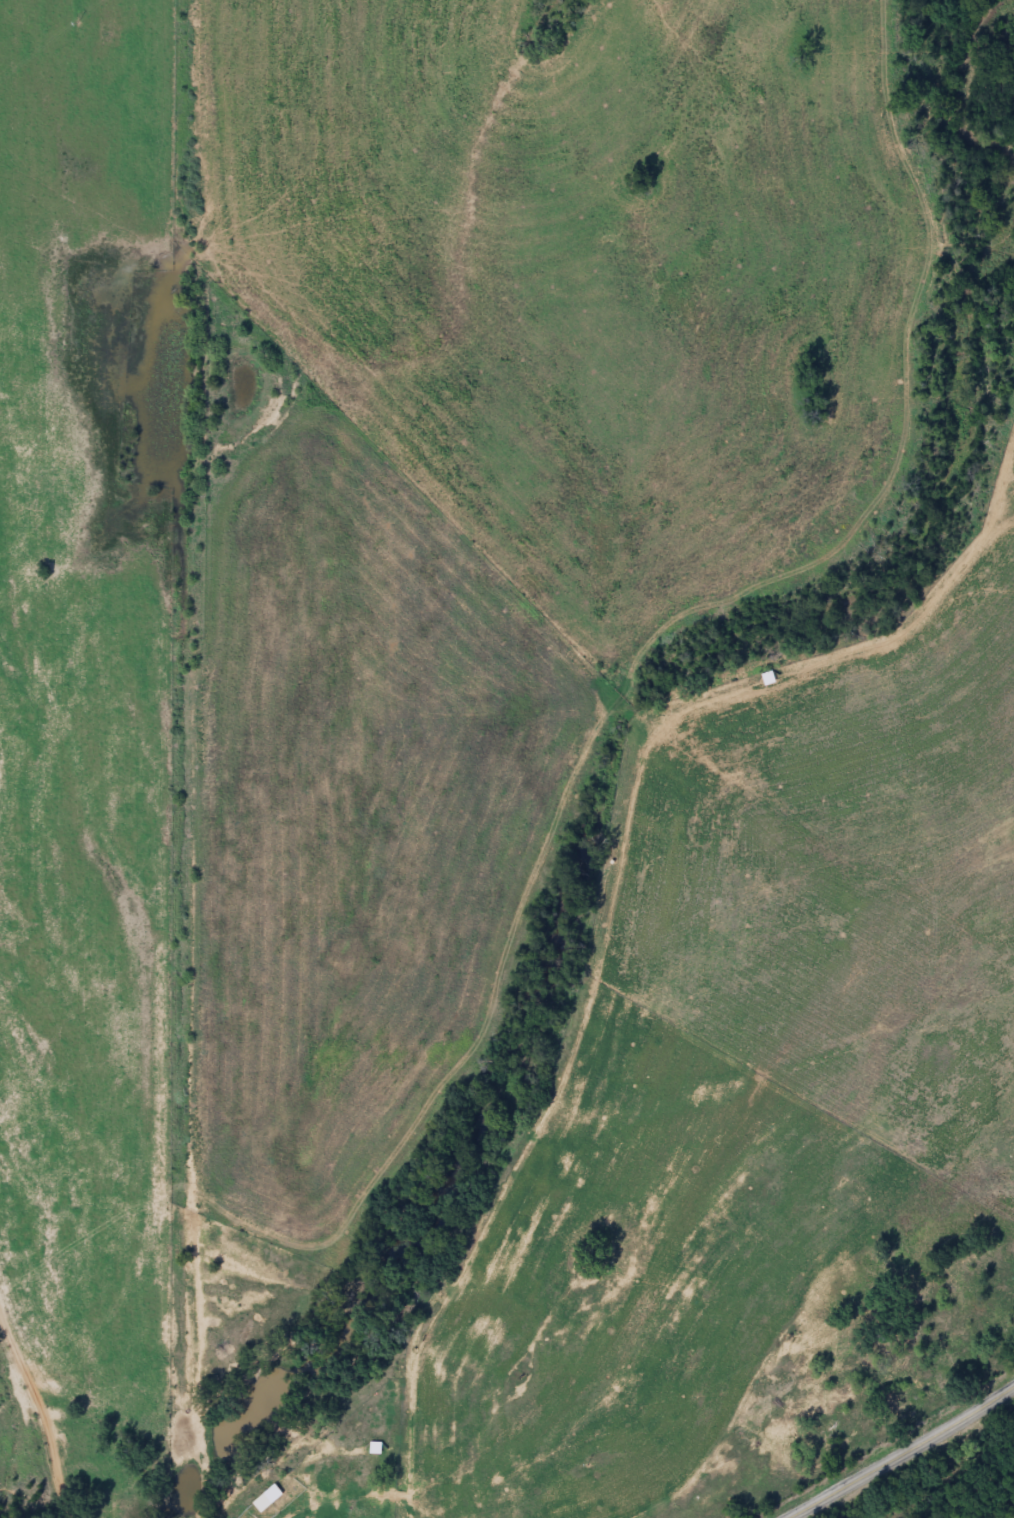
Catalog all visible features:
road: (908, 1456)

